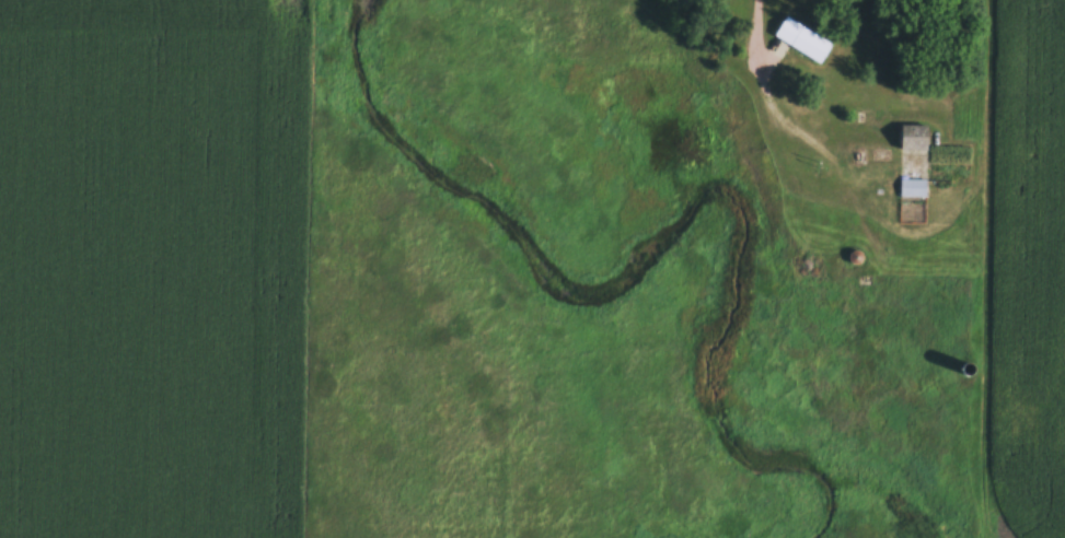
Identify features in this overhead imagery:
road: (757, 35)
building: (803, 38)
building: (914, 136)
building: (919, 149)
building: (917, 192)
crop: (1034, 262)

